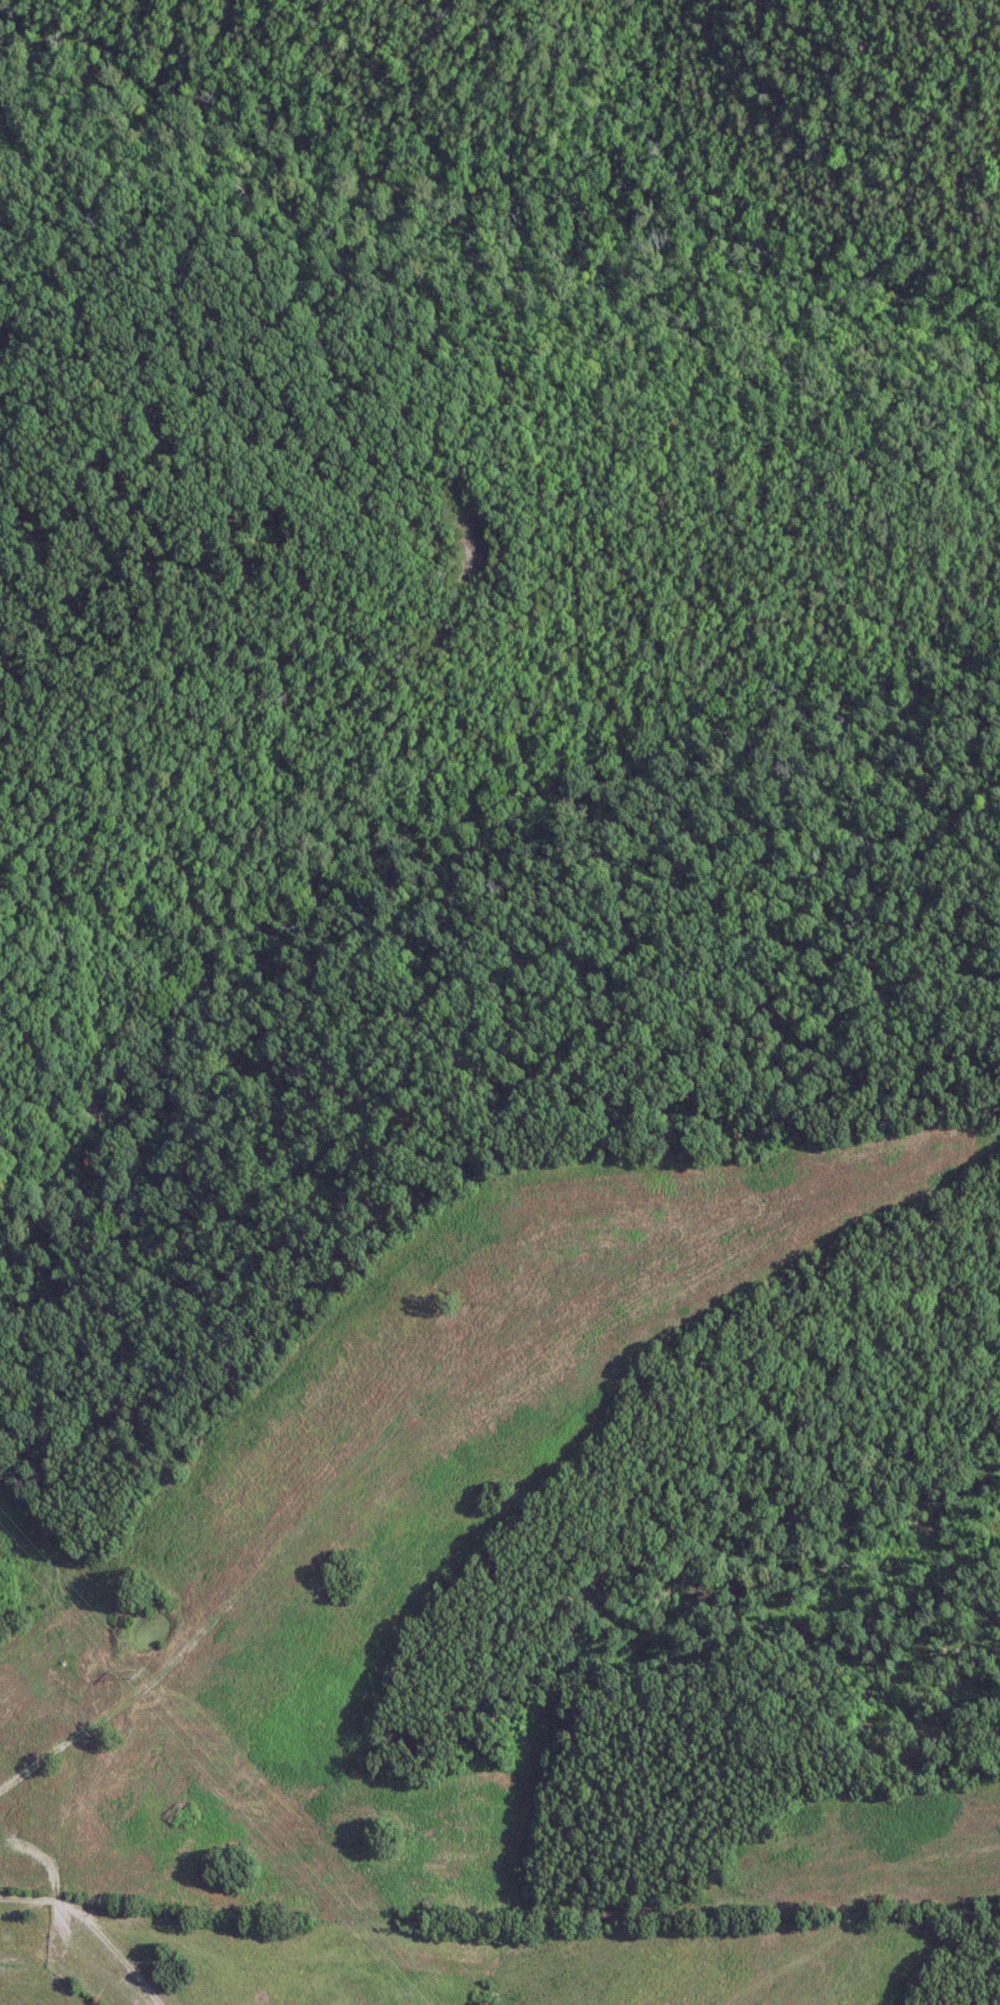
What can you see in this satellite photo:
power tower: (138, 1673)

